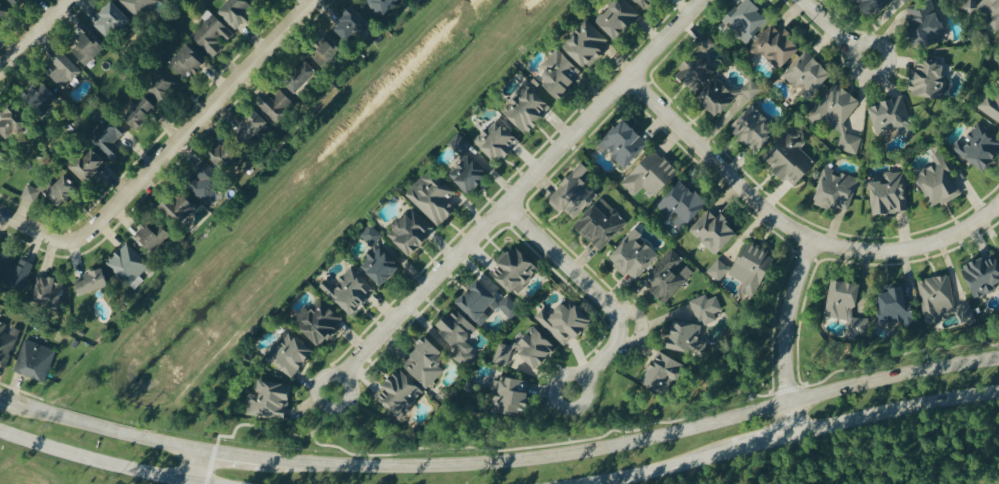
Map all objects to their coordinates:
building: (906, 1)
building: (17, 2)
building: (645, 2)
building: (875, 5)
building: (384, 6)
building: (138, 7)
building: (236, 12)
building: (985, 12)
building: (3, 13)
building: (619, 17)
building: (748, 18)
building: (112, 20)
building: (353, 23)
building: (926, 23)
road: (835, 33)
building: (213, 34)
road: (35, 36)
building: (587, 43)
building: (707, 44)
building: (777, 45)
building: (87, 49)
building: (326, 51)
building: (188, 60)
building: (64, 71)
building: (560, 71)
building: (697, 71)
building: (809, 73)
building: (302, 76)
building: (928, 77)
building: (164, 85)
building: (751, 89)
building: (42, 96)
building: (718, 96)
building: (277, 101)
building: (990, 105)
building: (527, 106)
building: (140, 112)
building: (840, 114)
building: (893, 116)
building: (13, 119)
building: (253, 124)
road: (191, 125)
building: (755, 125)
building: (108, 135)
building: (497, 139)
building: (625, 142)
building: (460, 143)
building: (979, 147)
building: (1, 151)
building: (227, 153)
building: (791, 156)
building: (88, 163)
building: (470, 173)
building: (652, 174)
building: (207, 181)
building: (938, 181)
building: (63, 189)
building: (836, 189)
building: (31, 193)
building: (574, 193)
building: (890, 193)
building: (433, 196)
road: (518, 196)
building: (683, 203)
building: (179, 207)
building: (601, 223)
building: (715, 230)
road: (792, 230)
road: (32, 231)
building: (411, 231)
building: (153, 234)
building: (633, 255)
building: (379, 257)
building: (128, 263)
building: (753, 267)
building: (516, 269)
building: (719, 269)
building: (14, 270)
building: (983, 274)
building: (667, 276)
building: (92, 281)
building: (48, 289)
building: (350, 291)
road: (597, 296)
building: (942, 300)
building: (486, 302)
building: (896, 304)
building: (847, 305)
building: (707, 308)
building: (319, 320)
building: (566, 320)
building: (459, 333)
building: (682, 334)
road: (786, 337)
building: (7, 342)
building: (525, 349)
building: (291, 354)
building: (35, 360)
building: (426, 362)
building: (664, 370)
building: (400, 393)
building: (512, 395)
road: (1, 398)
building: (271, 399)
road: (897, 412)
road: (100, 429)
road: (765, 442)
road: (633, 443)
road: (230, 455)
park: (897, 462)
road: (91, 463)
road: (197, 468)
road: (660, 468)

